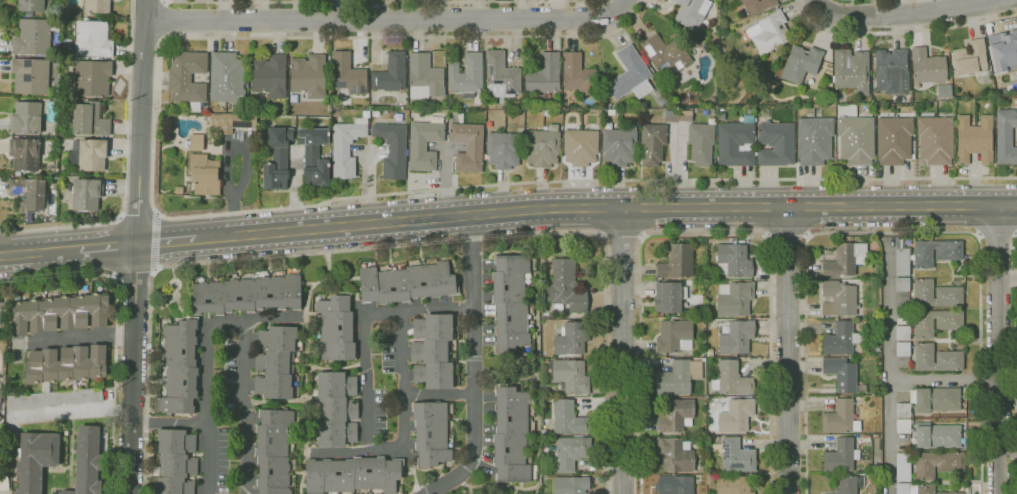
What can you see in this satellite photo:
road: (815, 0)
road: (382, 2)
building: (31, 5)
building: (758, 5)
building: (97, 6)
road: (612, 10)
building: (691, 12)
building: (73, 14)
road: (905, 15)
road: (370, 19)
road: (165, 21)
road: (900, 31)
building: (769, 32)
building: (33, 36)
building: (92, 39)
building: (67, 44)
building: (1003, 51)
building: (665, 54)
building: (970, 58)
building: (801, 63)
building: (927, 66)
building: (851, 71)
building: (891, 71)
building: (348, 74)
building: (391, 74)
building: (544, 74)
building: (466, 75)
building: (578, 75)
building: (630, 75)
building: (30, 76)
building: (269, 76)
building: (309, 76)
building: (501, 76)
building: (424, 77)
building: (92, 78)
building: (187, 78)
building: (227, 78)
building: (732, 82)
building: (944, 91)
building: (663, 100)
building: (749, 111)
building: (546, 112)
building: (671, 116)
building: (685, 116)
building: (721, 116)
building: (25, 118)
building: (89, 119)
building: (243, 121)
building: (221, 124)
building: (623, 126)
building: (1005, 137)
building: (974, 139)
building: (814, 140)
building: (856, 140)
building: (893, 140)
building: (935, 140)
building: (196, 142)
building: (652, 143)
building: (701, 143)
building: (735, 143)
building: (775, 144)
building: (423, 145)
building: (619, 146)
building: (467, 147)
building: (542, 147)
building: (580, 147)
building: (345, 148)
building: (392, 149)
building: (503, 150)
building: (25, 154)
building: (90, 154)
building: (315, 155)
building: (277, 159)
road: (125, 169)
building: (204, 174)
building: (27, 194)
building: (86, 194)
road: (605, 208)
road: (140, 211)
road: (253, 211)
road: (893, 232)
road: (705, 234)
road: (997, 235)
road: (787, 237)
road: (622, 238)
road: (166, 242)
building: (898, 243)
road: (394, 245)
road: (108, 247)
road: (137, 247)
road: (39, 252)
building: (936, 252)
building: (879, 259)
building: (734, 260)
building: (845, 260)
building: (677, 261)
building: (901, 261)
road: (133, 277)
road: (1007, 277)
building: (406, 283)
building: (902, 284)
building: (565, 287)
building: (247, 294)
building: (936, 294)
building: (669, 297)
building: (735, 298)
building: (837, 299)
building: (510, 302)
building: (58, 313)
road: (236, 322)
building: (930, 324)
building: (336, 327)
road: (117, 328)
building: (674, 336)
building: (735, 336)
road: (80, 339)
building: (572, 339)
building: (841, 339)
road: (1016, 347)
building: (902, 348)
road: (998, 349)
road: (788, 350)
building: (432, 351)
road: (621, 351)
building: (710, 352)
building: (702, 354)
building: (937, 359)
building: (274, 362)
building: (65, 365)
road: (474, 365)
road: (889, 365)
building: (179, 368)
road: (306, 369)
road: (336, 369)
building: (843, 375)
building: (569, 376)
building: (678, 377)
building: (731, 379)
road: (944, 379)
road: (439, 394)
building: (0, 395)
building: (53, 398)
building: (936, 400)
building: (336, 408)
building: (903, 410)
road: (77, 412)
building: (676, 415)
building: (0, 416)
building: (736, 416)
building: (568, 418)
building: (839, 418)
road: (172, 424)
building: (903, 426)
building: (431, 434)
building: (511, 435)
building: (937, 435)
building: (865, 438)
building: (0, 446)
road: (403, 449)
building: (273, 451)
building: (570, 452)
road: (1008, 452)
building: (675, 455)
building: (841, 456)
building: (736, 457)
building: (35, 460)
building: (87, 461)
building: (174, 463)
building: (938, 464)
building: (903, 467)
building: (353, 475)
building: (709, 479)
building: (3, 483)
building: (570, 485)
building: (675, 485)
building: (733, 485)
building: (846, 485)
building: (914, 488)
building: (950, 493)

